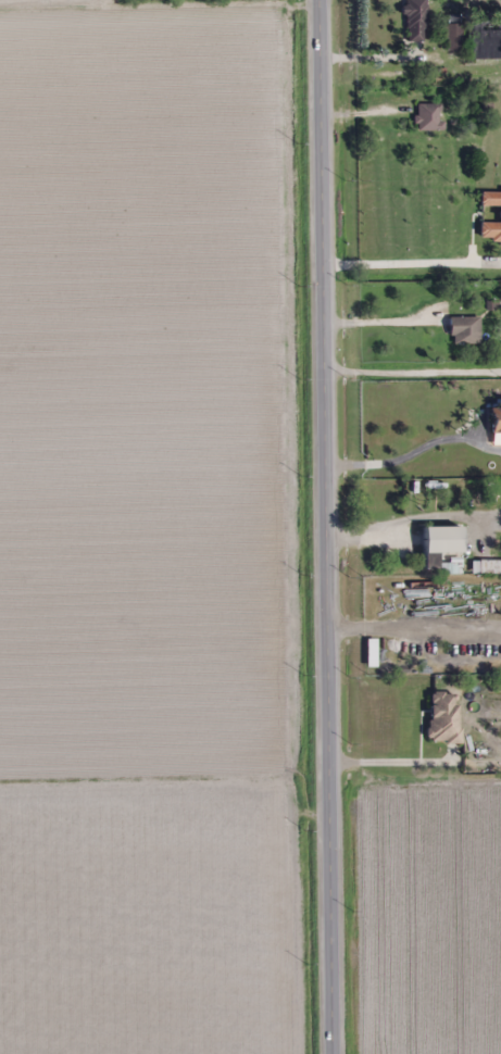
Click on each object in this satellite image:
building: (415, 21)
building: (451, 37)
building: (428, 117)
building: (500, 214)
building: (464, 330)
road: (412, 381)
road: (324, 527)
building: (442, 545)
building: (489, 567)
building: (442, 717)
road: (414, 761)

